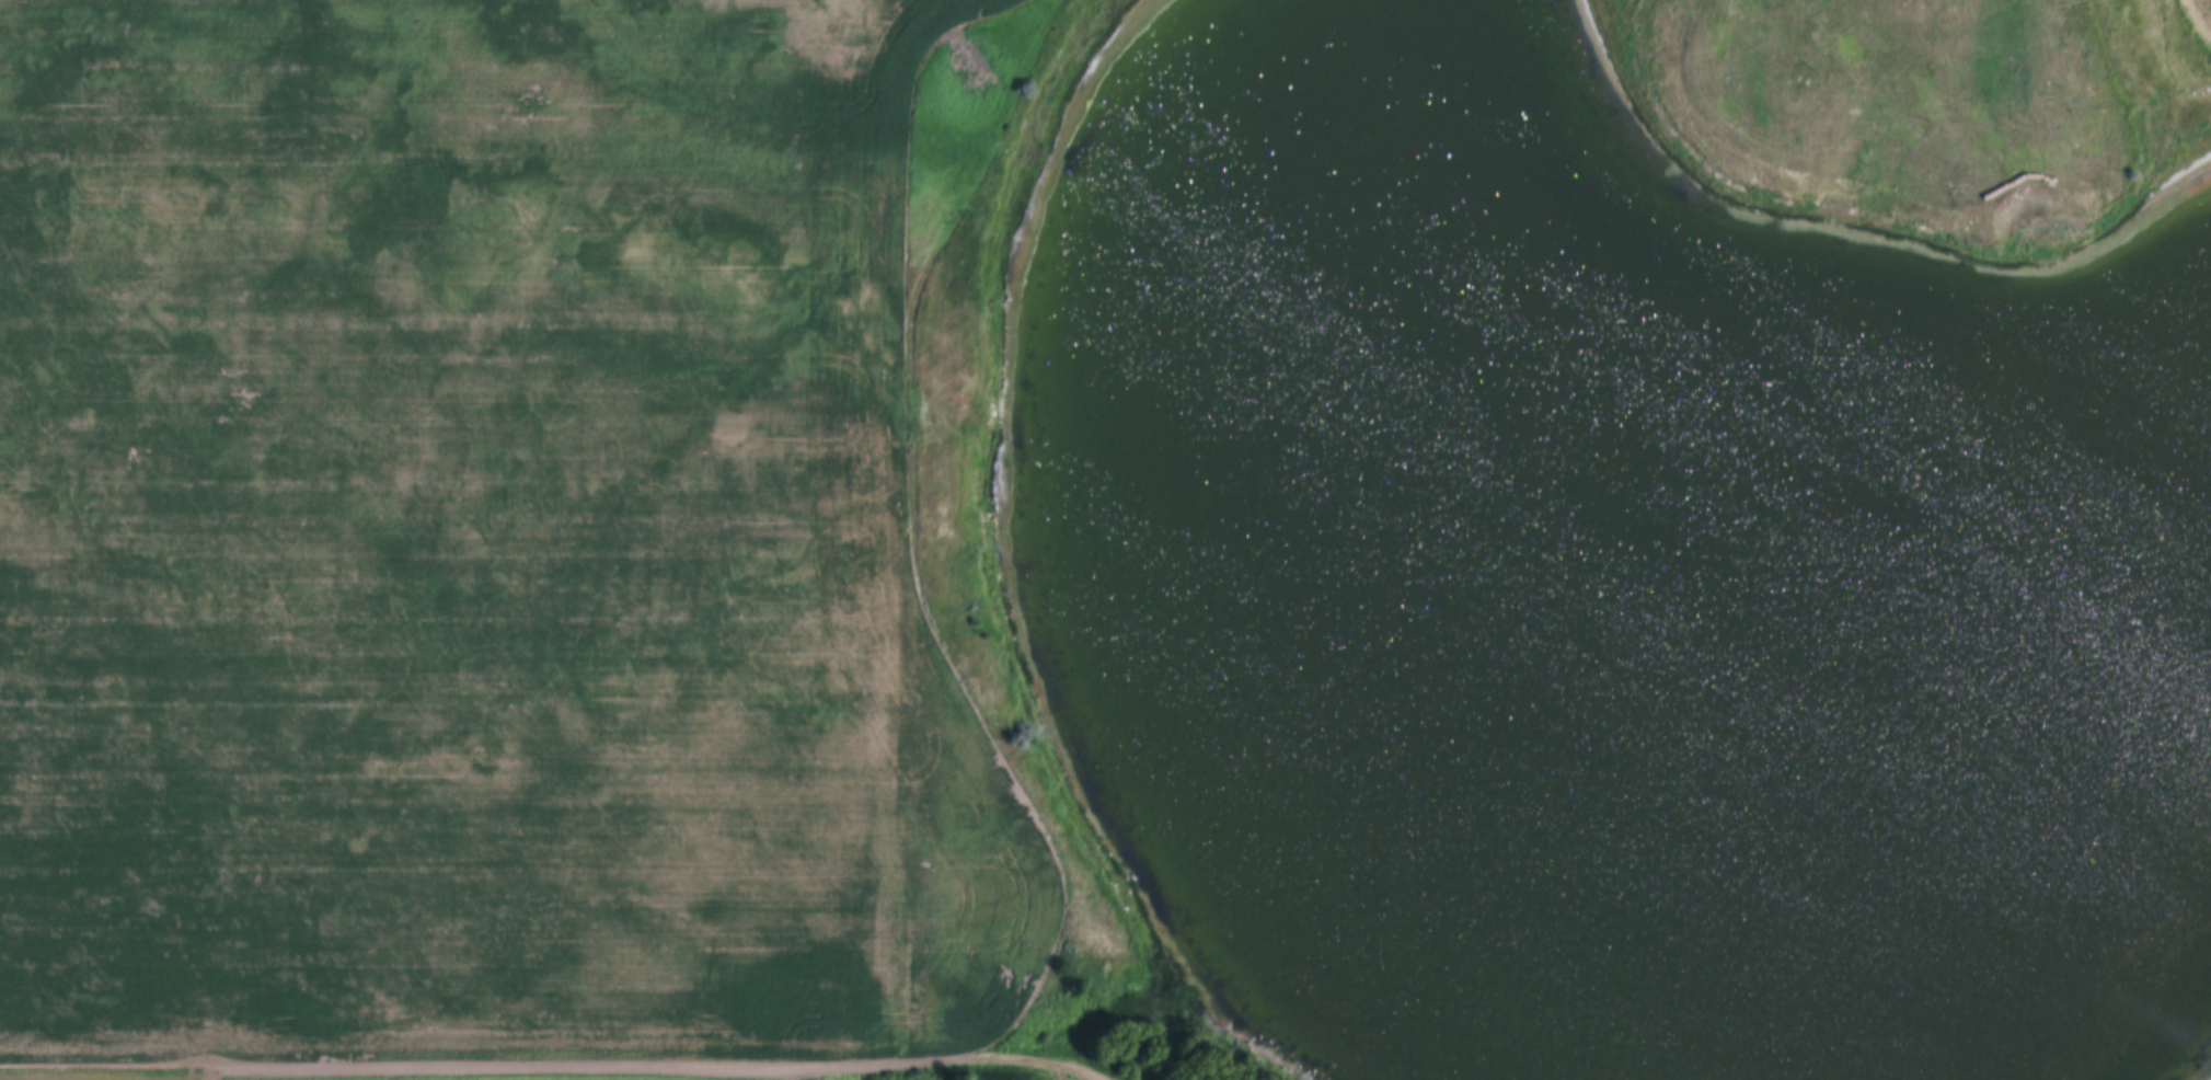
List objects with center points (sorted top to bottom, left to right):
road: (562, 1065)

